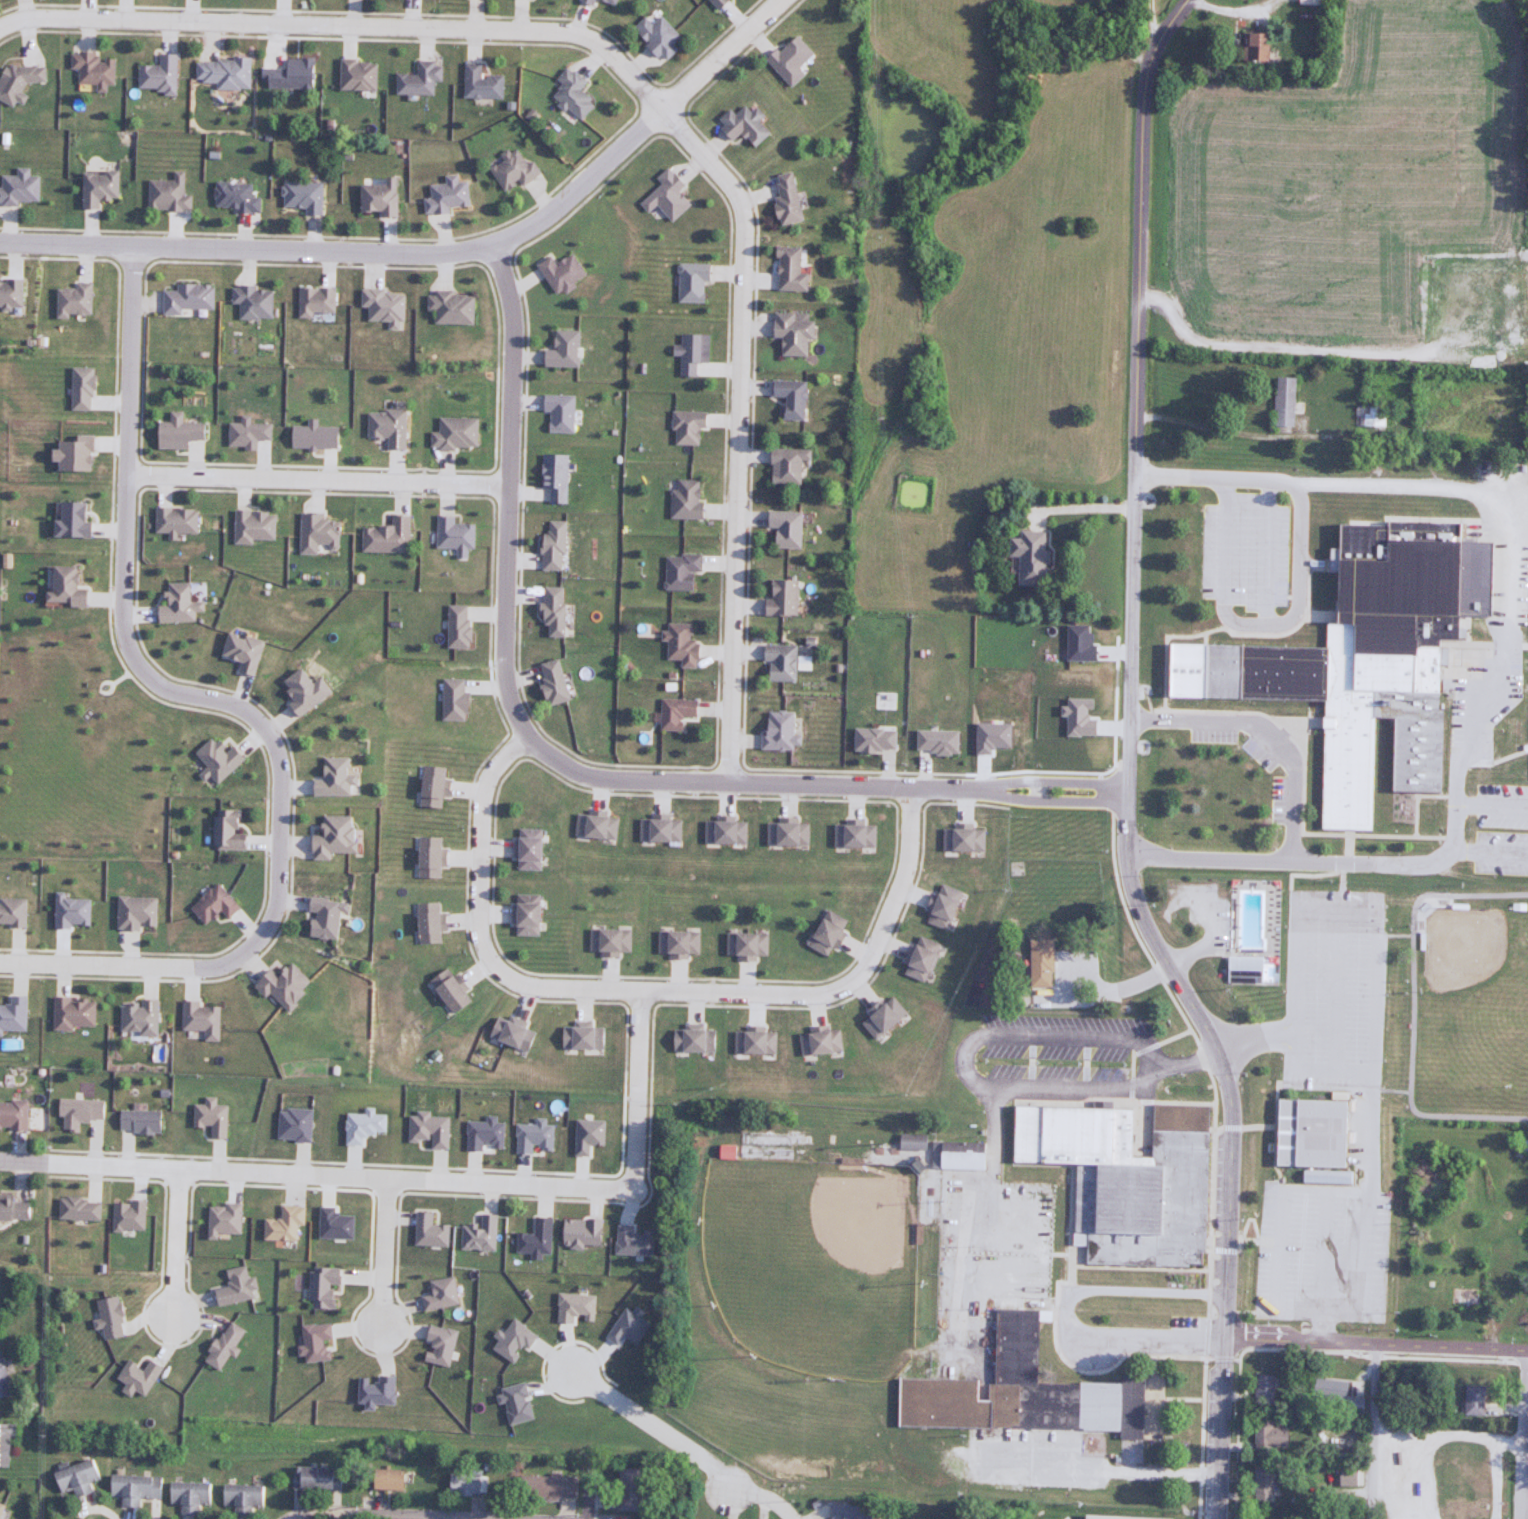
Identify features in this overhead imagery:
building: (609, 1)
building: (585, 2)
building: (1309, 2)
building: (715, 3)
road: (345, 24)
road: (1152, 24)
building: (656, 36)
building: (1253, 47)
building: (787, 57)
building: (91, 70)
building: (222, 73)
building: (156, 75)
building: (289, 75)
building: (355, 75)
building: (417, 79)
building: (16, 82)
building: (479, 83)
building: (570, 94)
building: (741, 125)
road: (641, 129)
building: (509, 170)
building: (18, 188)
building: (94, 188)
building: (166, 195)
building: (443, 196)
building: (664, 196)
building: (231, 197)
building: (300, 197)
building: (375, 199)
building: (783, 199)
road: (246, 249)
building: (785, 269)
building: (558, 273)
building: (689, 282)
building: (9, 292)
building: (183, 298)
building: (70, 300)
building: (313, 300)
building: (249, 302)
building: (381, 306)
building: (448, 307)
building: (789, 330)
building: (559, 349)
building: (690, 352)
road: (1301, 352)
building: (78, 388)
building: (787, 397)
building: (1283, 401)
building: (556, 411)
building: (1368, 415)
road: (1137, 419)
building: (384, 426)
building: (684, 426)
road: (738, 430)
building: (173, 432)
building: (243, 432)
building: (451, 433)
building: (310, 436)
building: (69, 453)
building: (783, 464)
building: (551, 475)
road: (316, 480)
building: (683, 501)
building: (66, 520)
building: (173, 520)
building: (252, 526)
building: (781, 528)
building: (315, 532)
building: (451, 535)
building: (384, 536)
building: (550, 544)
building: (1027, 556)
building: (678, 570)
road: (1298, 574)
building: (61, 589)
building: (778, 596)
building: (174, 605)
building: (548, 610)
parking lot: (1494, 623)
building: (455, 626)
building: (678, 643)
road: (130, 650)
building: (238, 651)
building: (1364, 656)
building: (778, 661)
building: (548, 681)
building: (300, 691)
building: (450, 699)
building: (674, 712)
building: (777, 731)
road: (1265, 732)
road: (1477, 736)
building: (871, 739)
building: (215, 760)
road: (572, 767)
building: (329, 778)
building: (429, 786)
building: (594, 825)
parking lot: (1500, 828)
building: (658, 829)
building: (723, 830)
building: (228, 831)
building: (785, 832)
building: (851, 834)
building: (328, 836)
building: (961, 838)
building: (525, 849)
building: (425, 857)
road: (1134, 888)
building: (211, 904)
building: (940, 906)
building: (70, 911)
parking lot: (1203, 911)
building: (11, 912)
building: (134, 913)
building: (523, 915)
building: (321, 917)
building: (425, 923)
building: (824, 932)
building: (607, 941)
building: (676, 943)
building: (744, 945)
park: (1463, 945)
parking lot: (1334, 953)
building: (918, 958)
building: (1038, 963)
road: (121, 964)
building: (1245, 968)
building: (280, 985)
road: (651, 989)
building: (447, 991)
road: (1411, 1005)
building: (12, 1013)
building: (71, 1013)
building: (881, 1017)
building: (136, 1018)
building: (200, 1019)
building: (509, 1033)
building: (580, 1037)
building: (692, 1039)
building: (753, 1041)
building: (817, 1041)
parking lot: (1057, 1047)
park: (1454, 1108)
building: (76, 1112)
building: (12, 1114)
building: (209, 1117)
building: (136, 1120)
building: (1309, 1132)
building: (909, 1141)
road: (1366, 1141)
building: (954, 1155)
road: (416, 1179)
building: (1146, 1197)
building: (13, 1208)
building: (76, 1208)
road: (1226, 1212)
building: (125, 1215)
building: (220, 1220)
building: (281, 1224)
building: (579, 1233)
building: (477, 1234)
building: (533, 1238)
road: (175, 1244)
road: (382, 1252)
park: (813, 1262)
building: (232, 1287)
road: (1066, 1317)
building: (105, 1318)
road: (1373, 1344)
building: (221, 1345)
building: (1018, 1346)
building: (135, 1378)
building: (2, 1384)
building: (1261, 1390)
building: (1332, 1392)
building: (1471, 1400)
road: (650, 1427)
road: (1371, 1431)
building: (1268, 1435)
road: (1524, 1435)
building: (3, 1444)
building: (73, 1477)
building: (307, 1477)
building: (1345, 1477)
building: (381, 1479)
building: (466, 1483)
building: (1261, 1483)
building: (545, 1487)
building: (131, 1488)
building: (626, 1489)
road: (584, 1490)
building: (186, 1495)
road: (764, 1496)
building: (239, 1498)
building: (0, 1505)
building: (848, 1511)
road: (379, 1515)

